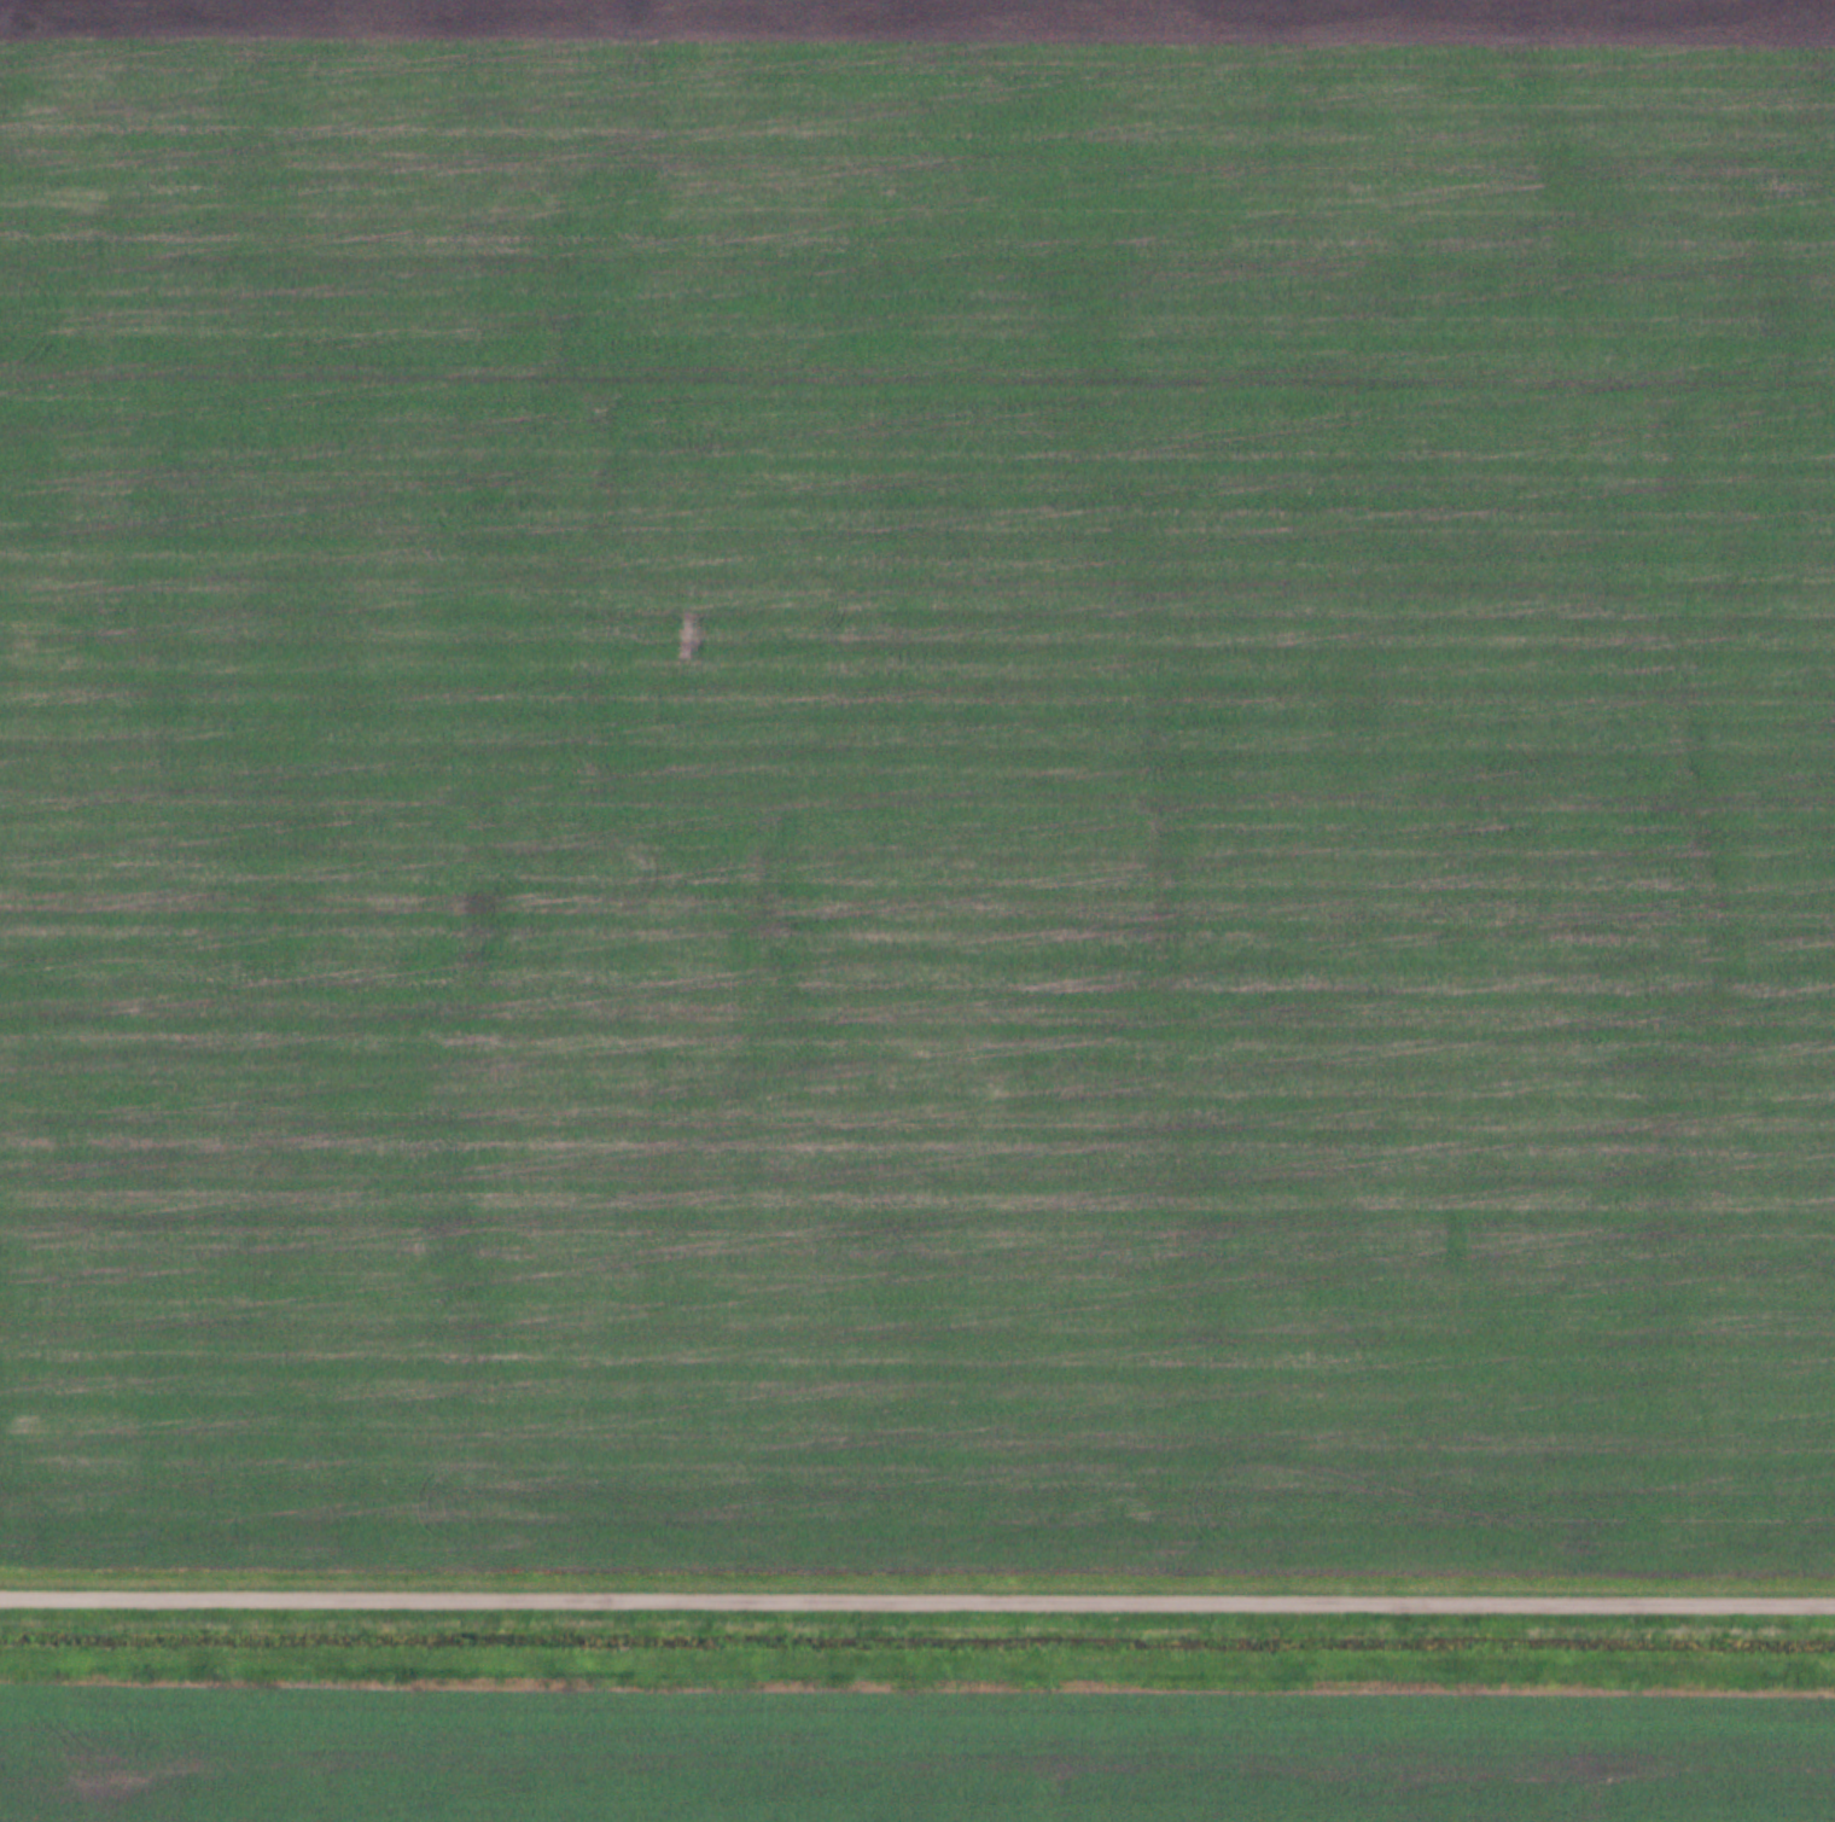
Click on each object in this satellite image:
crop: (917, 782)
road: (917, 1595)
crop: (909, 1753)

